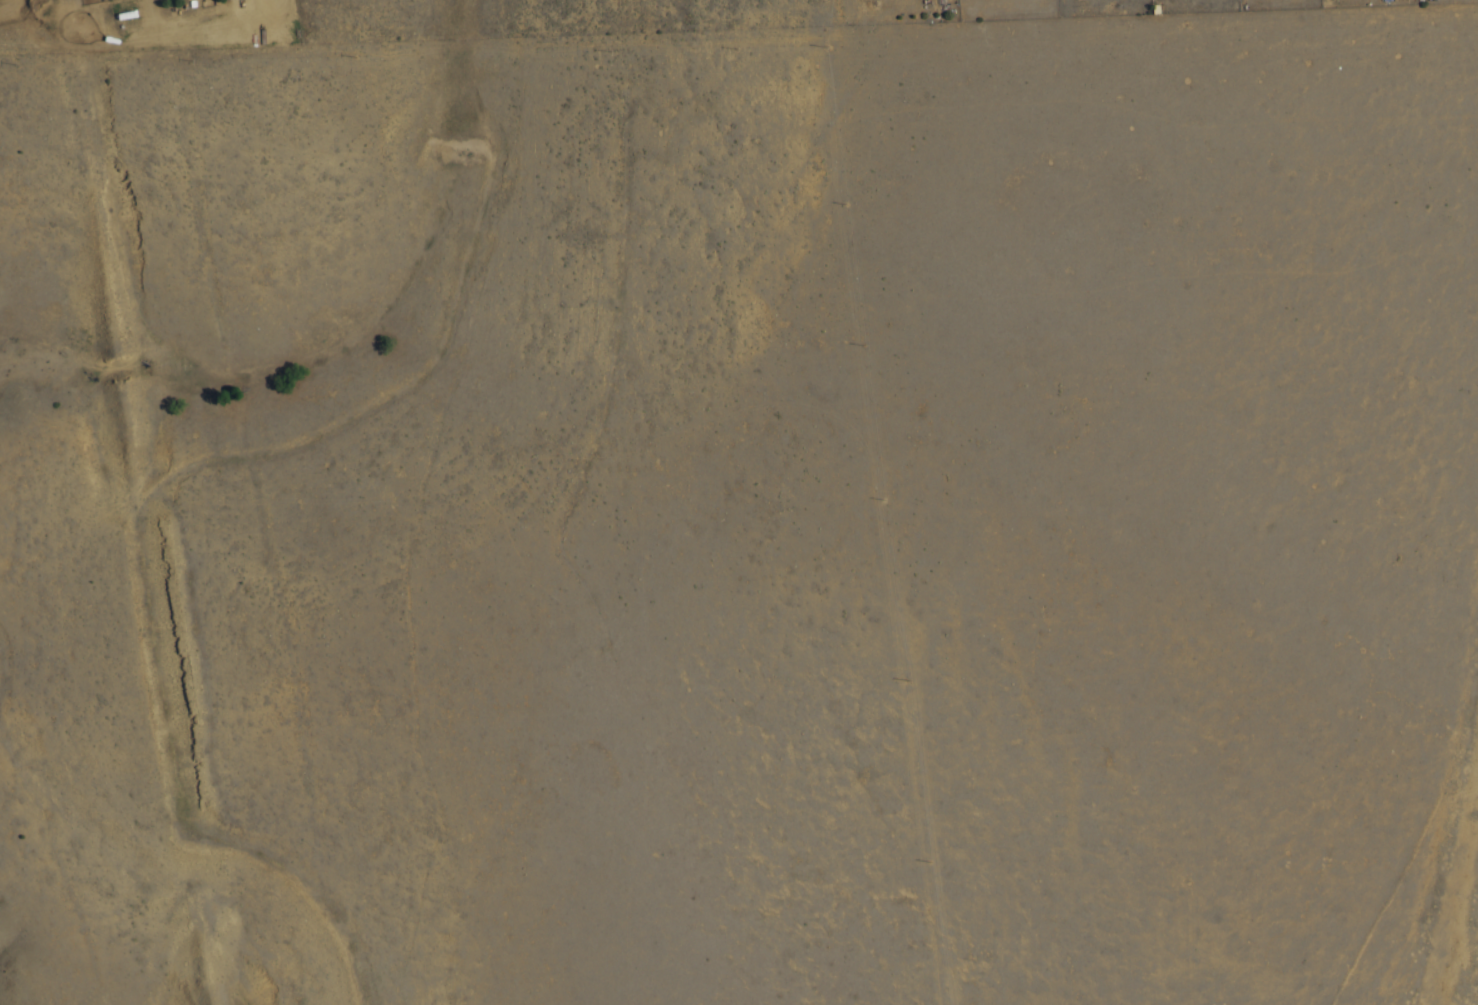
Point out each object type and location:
road: (1468, 920)

